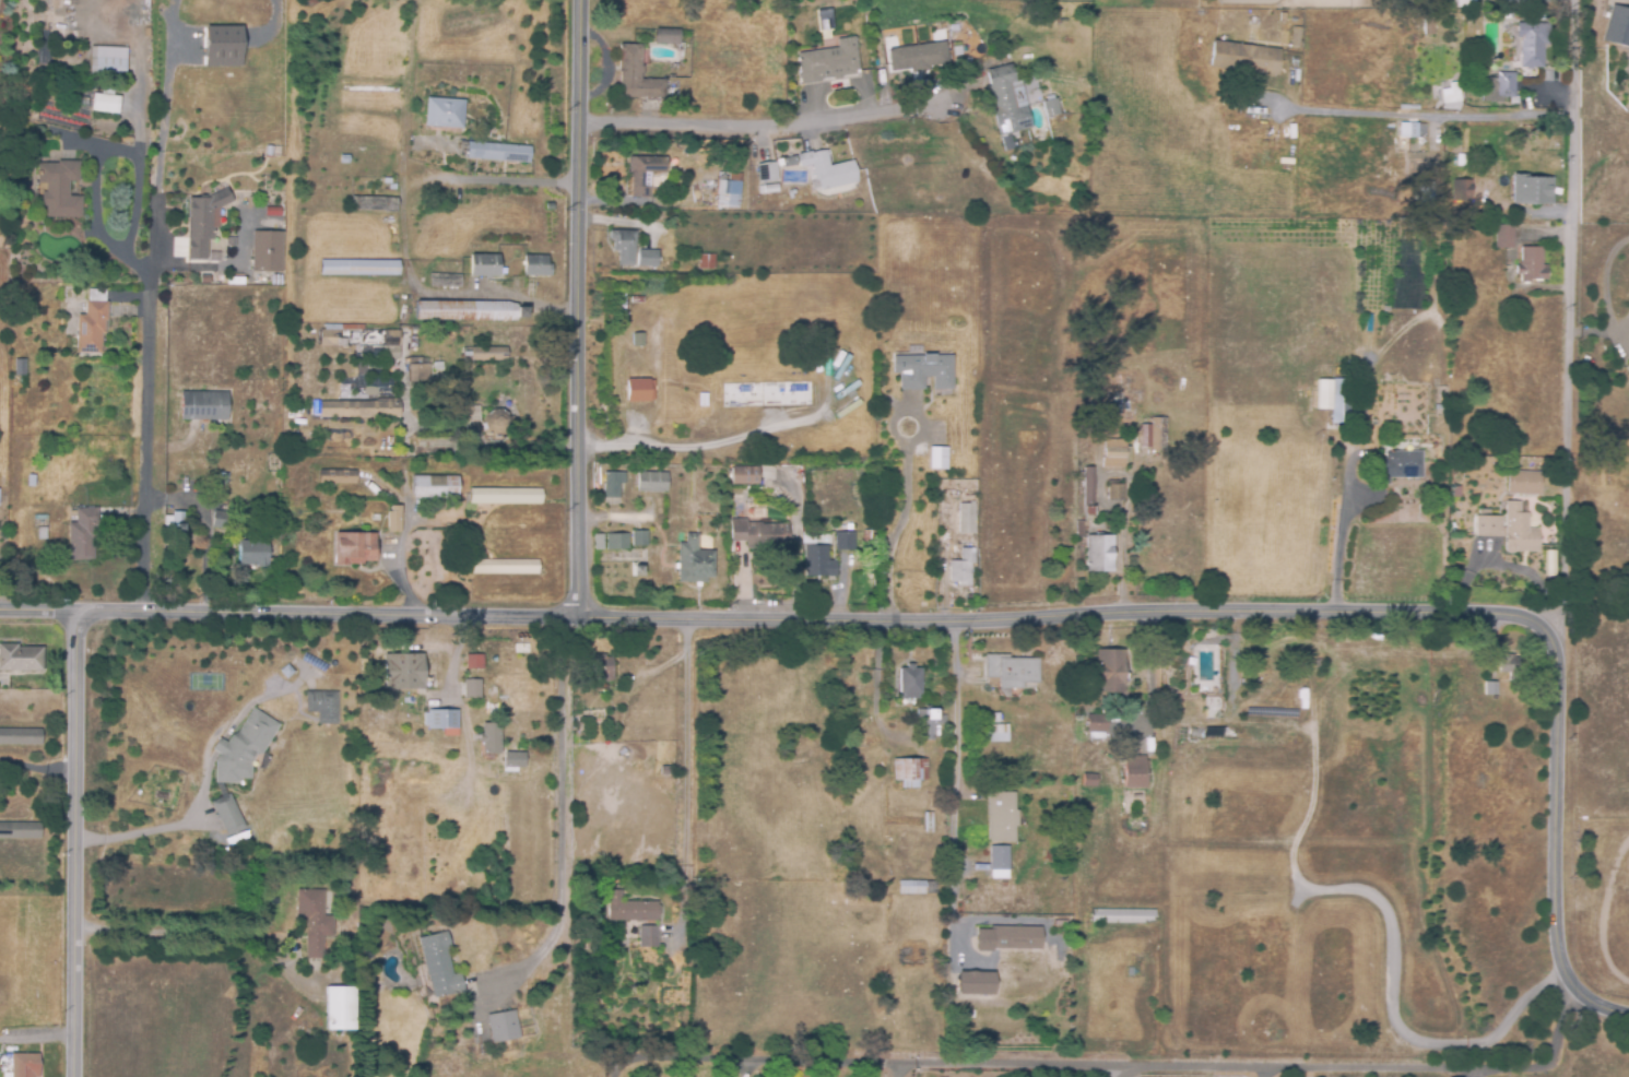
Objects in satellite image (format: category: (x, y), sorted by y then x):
building: (824, 19)
road: (276, 21)
building: (1456, 25)
building: (1427, 26)
building: (1617, 26)
building: (665, 38)
building: (1294, 38)
building: (219, 46)
building: (1530, 46)
building: (917, 58)
building: (1242, 59)
building: (106, 63)
building: (829, 66)
building: (788, 72)
building: (635, 76)
building: (1497, 88)
building: (1450, 94)
building: (1002, 96)
road: (167, 103)
building: (105, 104)
building: (1050, 108)
building: (446, 111)
road: (1423, 116)
road: (759, 123)
building: (123, 140)
building: (497, 152)
building: (344, 161)
building: (788, 165)
building: (830, 173)
building: (641, 176)
building: (765, 177)
road: (517, 179)
building: (24, 185)
building: (1533, 188)
building: (59, 189)
building: (728, 191)
building: (1461, 194)
building: (373, 201)
building: (237, 204)
building: (203, 223)
building: (1501, 237)
building: (624, 247)
building: (265, 252)
building: (646, 258)
building: (705, 260)
building: (484, 265)
building: (1530, 265)
building: (535, 267)
building: (358, 269)
building: (444, 281)
building: (269, 282)
building: (234, 284)
road: (1605, 285)
road: (489, 296)
road: (581, 306)
road: (1569, 306)
building: (471, 310)
building: (92, 323)
building: (1383, 328)
road: (1593, 328)
building: (660, 331)
building: (361, 340)
building: (638, 340)
building: (487, 354)
building: (659, 363)
building: (1627, 365)
building: (437, 367)
building: (20, 368)
building: (1380, 370)
building: (416, 371)
building: (922, 371)
building: (636, 389)
building: (1120, 394)
building: (659, 397)
building: (704, 398)
building: (1339, 403)
road: (168, 404)
building: (202, 406)
building: (358, 410)
building: (467, 415)
building: (496, 421)
building: (1372, 423)
building: (1158, 434)
road: (503, 447)
building: (1114, 454)
building: (936, 457)
building: (1393, 463)
building: (742, 475)
building: (335, 477)
building: (223, 480)
building: (31, 481)
building: (650, 482)
building: (612, 484)
building: (942, 484)
building: (1522, 484)
building: (720, 485)
building: (434, 487)
building: (1112, 489)
building: (1086, 493)
building: (505, 497)
building: (291, 505)
building: (1456, 505)
building: (245, 513)
building: (374, 518)
building: (964, 519)
building: (393, 520)
building: (221, 521)
road: (901, 522)
building: (173, 523)
building: (1483, 524)
building: (850, 526)
building: (833, 528)
building: (1518, 530)
building: (42, 534)
building: (82, 534)
building: (757, 534)
building: (943, 537)
building: (638, 538)
building: (853, 541)
road: (1343, 543)
building: (353, 549)
building: (615, 549)
building: (253, 554)
building: (1098, 554)
building: (816, 558)
building: (693, 561)
building: (503, 567)
building: (960, 567)
building: (636, 571)
road: (780, 615)
building: (20, 659)
building: (472, 662)
building: (1507, 664)
building: (600, 668)
building: (1011, 671)
building: (285, 672)
building: (401, 672)
building: (1108, 672)
road: (1149, 673)
building: (908, 683)
building: (1488, 689)
building: (470, 691)
building: (322, 705)
building: (491, 717)
building: (441, 722)
building: (929, 723)
building: (1094, 723)
building: (1013, 731)
building: (990, 734)
building: (20, 737)
building: (243, 746)
building: (523, 754)
road: (955, 766)
road: (36, 768)
building: (1133, 772)
building: (908, 773)
road: (686, 776)
building: (1088, 780)
road: (205, 788)
building: (1136, 797)
road: (562, 801)
building: (227, 815)
building: (1001, 817)
building: (926, 822)
building: (20, 831)
road: (1555, 833)
road: (73, 841)
building: (998, 860)
building: (918, 887)
building: (628, 909)
building: (1121, 916)
building: (312, 922)
road: (163, 931)
building: (647, 937)
building: (1006, 938)
building: (910, 958)
building: (439, 966)
building: (973, 982)
building: (339, 1009)
building: (503, 1027)
road: (36, 1039)
road: (1550, 1058)
road: (621, 1064)
road: (1050, 1064)
building: (23, 1065)
road: (899, 1069)
road: (1125, 1072)
road: (1261, 1072)
road: (1466, 1074)

